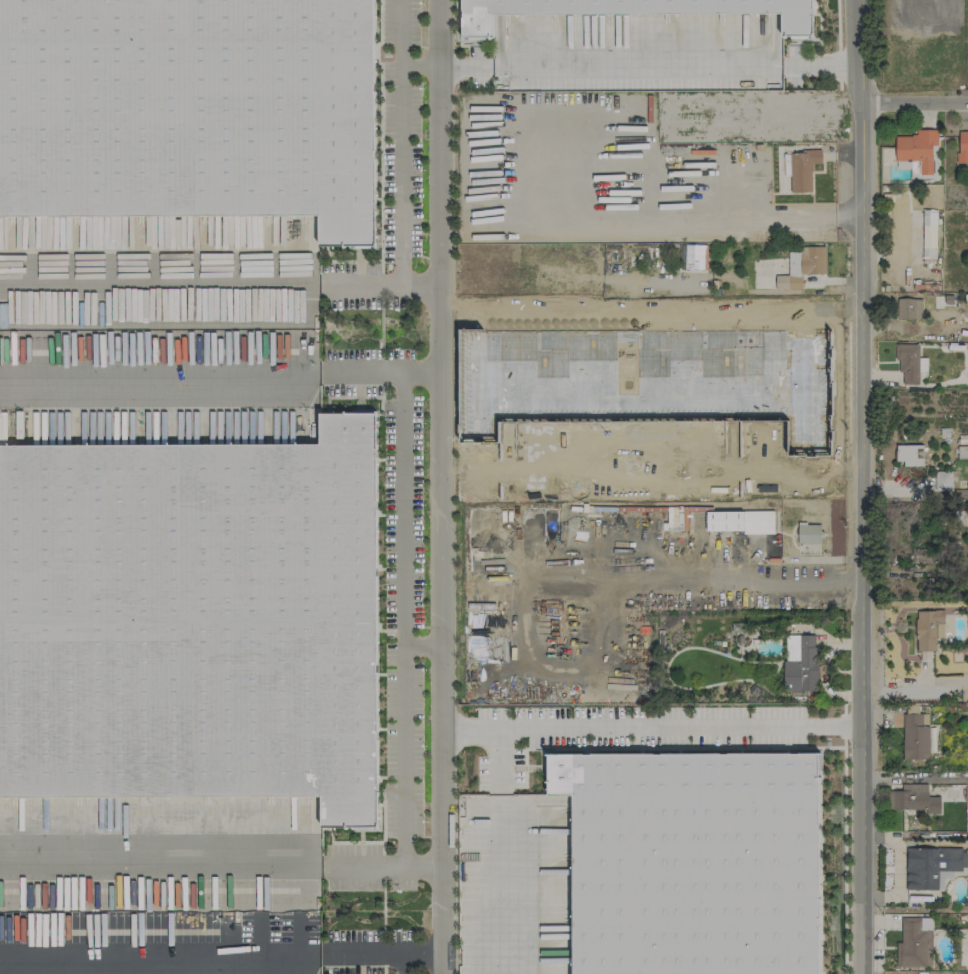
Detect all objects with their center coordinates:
building: (635, 10)
road: (417, 65)
road: (643, 65)
road: (916, 102)
building: (190, 110)
road: (399, 141)
building: (962, 146)
building: (917, 149)
building: (803, 170)
road: (696, 222)
building: (929, 234)
building: (694, 256)
building: (801, 267)
road: (377, 283)
road: (159, 284)
road: (651, 305)
building: (908, 308)
building: (907, 363)
road: (384, 371)
building: (646, 378)
road: (156, 383)
building: (909, 454)
road: (696, 468)
building: (943, 480)
road: (864, 485)
road: (439, 486)
building: (739, 521)
building: (809, 534)
road: (792, 582)
road: (402, 619)
building: (192, 621)
building: (928, 629)
road: (421, 647)
building: (800, 663)
road: (916, 693)
road: (652, 727)
building: (915, 737)
road: (495, 761)
building: (913, 799)
road: (156, 856)
building: (693, 861)
road: (386, 867)
building: (932, 867)
road: (498, 884)
building: (914, 943)
road: (221, 955)
road: (404, 964)

